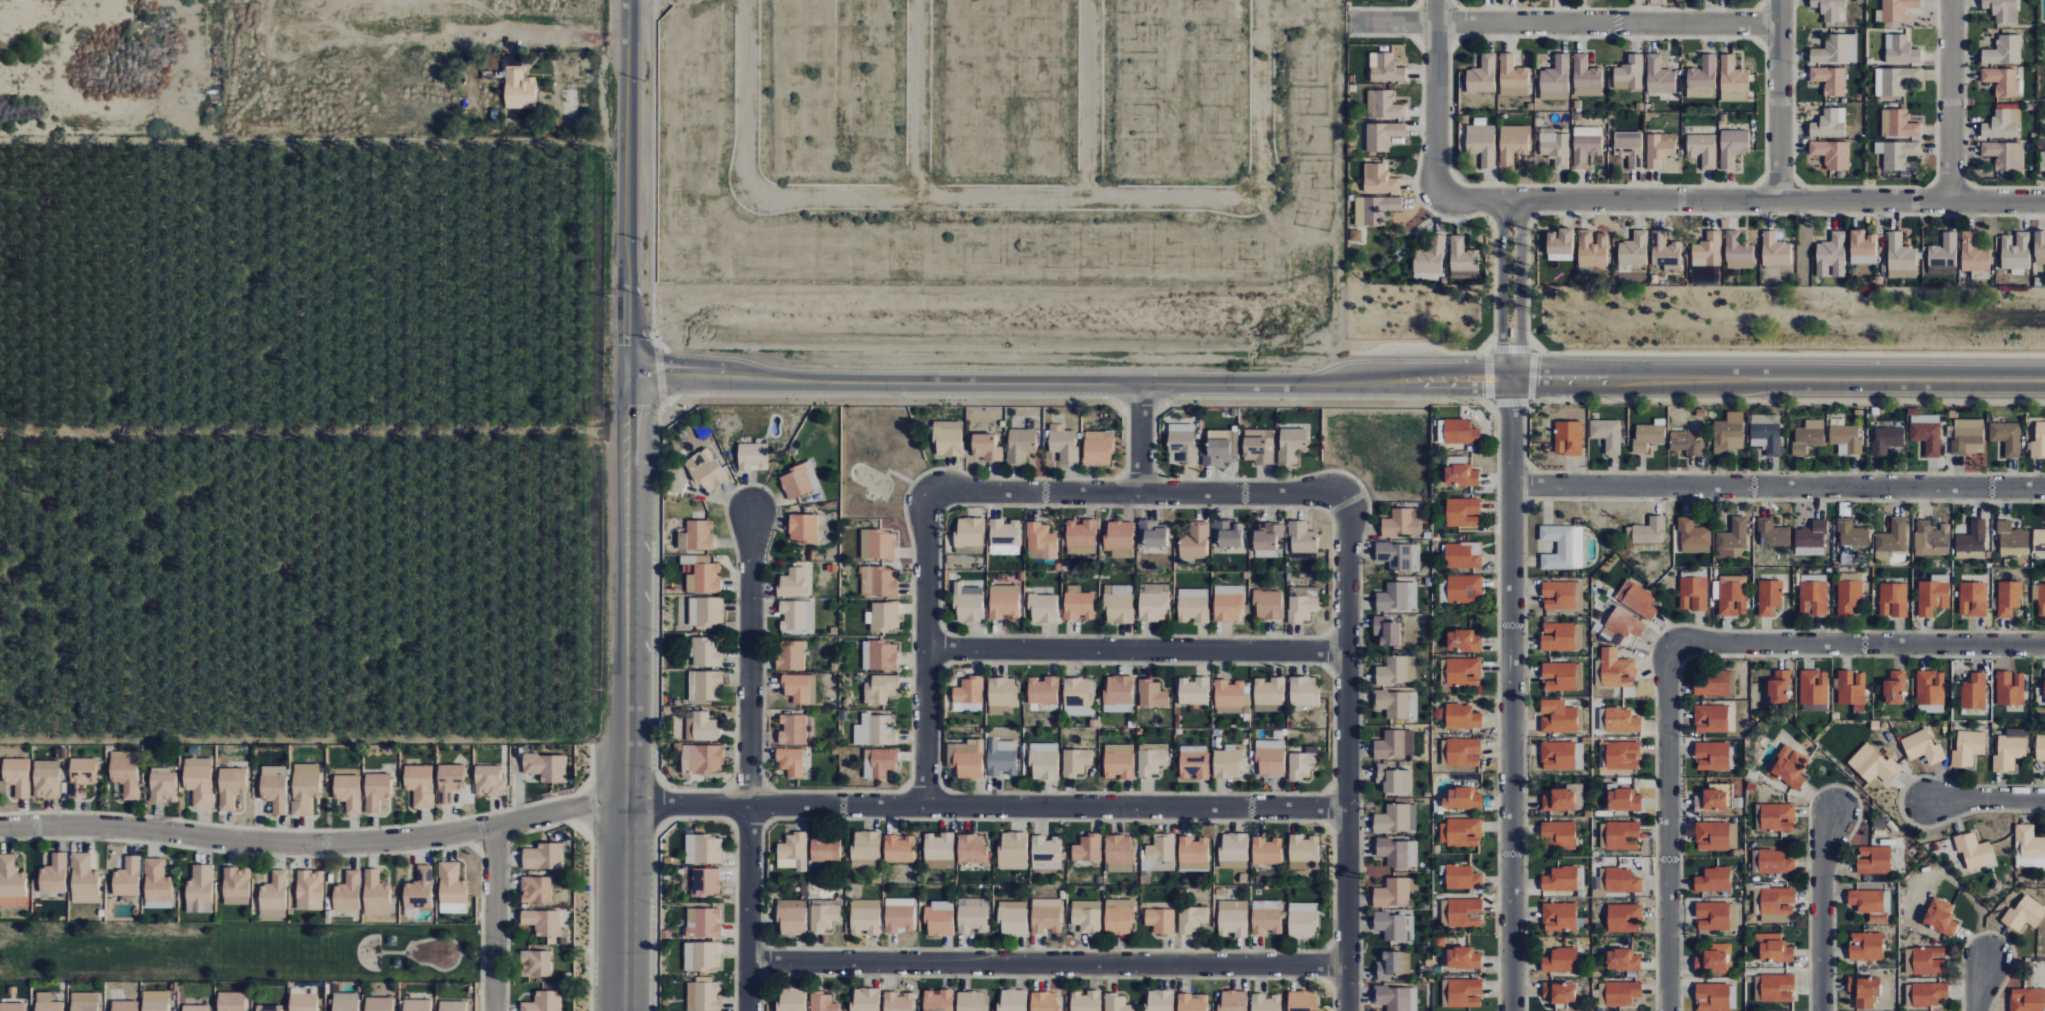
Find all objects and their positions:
road: (1418, 4)
road: (1454, 4)
road: (1452, 5)
road: (1761, 5)
road: (1384, 8)
building: (1827, 8)
road: (1608, 9)
building: (1896, 9)
building: (2001, 10)
road: (1561, 22)
road: (1762, 23)
road: (1453, 40)
road: (571, 41)
road: (1417, 41)
road: (1761, 42)
road: (1449, 49)
building: (1835, 49)
building: (1899, 50)
building: (2002, 50)
building: (1384, 68)
building: (1629, 71)
building: (1481, 73)
building: (1511, 74)
building: (1554, 74)
building: (1585, 74)
building: (1702, 74)
building: (1731, 75)
building: (1658, 76)
building: (1828, 79)
building: (1896, 80)
building: (2000, 80)
building: (520, 89)
road: (1435, 97)
building: (1734, 97)
road: (1778, 100)
road: (1949, 100)
building: (1382, 104)
building: (1897, 123)
building: (1827, 124)
building: (1998, 125)
road: (1963, 130)
building: (1382, 135)
building: (1731, 146)
building: (1481, 147)
building: (1511, 147)
building: (1584, 147)
building: (1701, 149)
building: (1657, 150)
building: (1555, 151)
building: (1628, 151)
building: (1831, 154)
building: (2003, 154)
building: (1897, 155)
building: (2044, 156)
building: (1377, 178)
road: (1796, 181)
road: (1760, 182)
road: (1778, 182)
road: (1932, 182)
road: (1967, 182)
road: (1949, 183)
road: (1864, 186)
road: (1741, 201)
building: (1374, 209)
road: (1472, 215)
road: (1509, 217)
road: (1530, 218)
road: (1490, 220)
building: (1560, 241)
building: (1861, 243)
building: (2039, 244)
building: (1736, 247)
building: (1707, 248)
building: (1633, 249)
building: (1590, 250)
building: (1663, 250)
building: (1774, 250)
building: (1831, 250)
building: (2015, 251)
building: (1898, 252)
building: (1942, 253)
building: (1972, 253)
building: (1429, 255)
building: (1462, 256)
road: (1527, 281)
road: (1501, 289)
road: (1519, 289)
road: (1487, 346)
road: (1533, 346)
road: (1510, 348)
traffic signals: (626, 351)
traffic signals: (641, 375)
road: (722, 375)
road: (1531, 375)
road: (1488, 376)
road: (1676, 379)
road: (1063, 383)
road: (1787, 400)
road: (1510, 404)
road: (1490, 405)
traffic signals: (627, 406)
building: (1460, 431)
building: (1730, 432)
road: (313, 433)
building: (1767, 433)
building: (1927, 433)
building: (1607, 434)
road: (1337, 436)
building: (1648, 436)
building: (1808, 436)
building: (1968, 436)
building: (1568, 437)
building: (2007, 437)
building: (948, 438)
road: (1140, 438)
building: (1846, 438)
building: (1887, 439)
building: (1182, 441)
building: (2039, 441)
building: (1686, 442)
building: (1063, 443)
building: (1020, 444)
building: (1291, 444)
road: (1331, 444)
building: (1258, 445)
building: (985, 447)
building: (1217, 448)
building: (1097, 449)
road: (1342, 450)
building: (752, 456)
road: (1355, 457)
building: (706, 470)
building: (1460, 475)
building: (799, 480)
road: (1778, 486)
road: (1138, 492)
road: (626, 505)
building: (1462, 512)
building: (1402, 522)
building: (803, 528)
building: (1649, 530)
building: (968, 532)
building: (1004, 533)
building: (1152, 533)
building: (1227, 533)
building: (1772, 533)
building: (1852, 534)
building: (696, 535)
building: (1693, 536)
building: (1081, 537)
building: (1892, 538)
building: (1119, 539)
building: (1733, 539)
building: (1811, 539)
building: (1932, 539)
building: (2012, 539)
building: (1267, 540)
building: (1302, 540)
building: (2039, 540)
building: (1041, 541)
building: (1194, 541)
building: (1972, 541)
building: (877, 544)
building: (1563, 546)
building: (1399, 555)
building: (1463, 555)
building: (704, 578)
building: (1814, 578)
building: (878, 581)
building: (791, 582)
building: (1464, 589)
building: (1443, 591)
building: (1693, 593)
building: (1559, 595)
building: (1732, 595)
building: (1398, 596)
building: (1769, 596)
building: (1849, 597)
building: (2009, 597)
building: (2039, 597)
building: (1814, 598)
building: (1973, 598)
building: (1637, 599)
building: (1893, 599)
building: (1004, 601)
building: (1153, 602)
building: (968, 603)
building: (1078, 603)
building: (1228, 603)
building: (1302, 603)
building: (1118, 604)
building: (1268, 604)
building: (1193, 605)
building: (1043, 608)
building: (706, 611)
building: (797, 615)
building: (883, 616)
building: (1623, 624)
building: (1386, 630)
building: (1561, 636)
building: (1463, 640)
road: (1863, 644)
road: (924, 648)
road: (1134, 649)
building: (706, 651)
building: (790, 655)
building: (879, 655)
building: (1616, 669)
building: (1397, 670)
building: (1463, 672)
building: (1559, 676)
building: (1712, 682)
building: (704, 685)
building: (1779, 686)
building: (796, 687)
building: (1814, 687)
building: (1895, 687)
building: (2010, 688)
building: (880, 689)
building: (1853, 689)
building: (969, 690)
building: (1043, 690)
building: (1194, 691)
building: (1304, 691)
building: (1931, 691)
building: (1974, 691)
building: (1229, 693)
building: (1119, 694)
building: (1152, 694)
building: (1002, 695)
building: (1078, 695)
building: (1269, 695)
road: (1511, 695)
building: (2044, 702)
building: (1394, 703)
building: (1230, 710)
building: (1462, 716)
building: (1557, 716)
building: (1711, 718)
building: (1622, 720)
building: (701, 726)
building: (793, 729)
building: (876, 730)
building: (1390, 745)
building: (1923, 747)
building: (1968, 748)
building: (2040, 748)
building: (2010, 750)
building: (1463, 752)
building: (1562, 755)
building: (1602, 755)
building: (1623, 755)
building: (1712, 755)
road: (1345, 756)
building: (1002, 757)
building: (966, 758)
building: (1270, 758)
building: (701, 759)
road: (749, 759)
building: (1152, 759)
building: (791, 761)
building: (1044, 761)
building: (1076, 761)
building: (1119, 761)
building: (879, 762)
building: (1195, 762)
building: (1227, 763)
building: (1303, 763)
building: (1873, 764)
road: (591, 766)
building: (549, 767)
building: (1790, 767)
building: (83, 775)
building: (18, 776)
building: (127, 776)
building: (48, 779)
building: (1394, 779)
building: (491, 781)
building: (201, 782)
building: (451, 782)
building: (421, 785)
building: (164, 788)
building: (232, 788)
building: (378, 791)
building: (276, 792)
building: (307, 792)
building: (351, 793)
building: (1564, 798)
building: (1462, 799)
building: (1622, 799)
road: (1984, 799)
building: (1710, 800)
road: (985, 805)
road: (588, 809)
building: (1775, 817)
building: (1396, 818)
road: (1667, 822)
road: (579, 825)
road: (539, 828)
road: (296, 830)
building: (1460, 832)
building: (1559, 834)
road: (589, 835)
building: (1602, 835)
building: (1622, 835)
building: (1712, 836)
road: (491, 840)
road: (314, 844)
building: (866, 844)
building: (825, 848)
building: (971, 848)
building: (1087, 848)
building: (703, 849)
building: (898, 849)
building: (939, 850)
building: (1012, 850)
building: (1234, 850)
building: (1267, 851)
building: (1974, 851)
building: (793, 852)
building: (1046, 852)
building: (1304, 852)
building: (1398, 852)
road: (237, 853)
building: (1119, 853)
building: (1194, 854)
building: (1159, 855)
building: (545, 857)
building: (1874, 859)
building: (1775, 862)
building: (55, 874)
building: (85, 877)
building: (129, 877)
building: (12, 878)
building: (1462, 878)
building: (1560, 879)
building: (1620, 880)
building: (1714, 880)
building: (705, 881)
building: (159, 882)
building: (239, 882)
building: (202, 884)
building: (453, 886)
building: (421, 889)
building: (312, 890)
building: (537, 890)
building: (276, 891)
building: (350, 892)
building: (379, 892)
building: (1395, 892)
building: (1867, 901)
building: (1777, 903)
road: (1822, 909)
building: (1464, 912)
building: (2024, 914)
building: (1046, 915)
building: (1712, 916)
building: (1733, 916)
building: (1940, 916)
building: (791, 917)
building: (824, 917)
building: (865, 917)
building: (973, 917)
building: (1087, 917)
building: (1119, 917)
building: (1267, 917)
building: (1559, 917)
road: (493, 918)
building: (898, 918)
building: (1013, 918)
building: (1234, 918)
building: (1624, 918)
building: (939, 919)
building: (1192, 919)
building: (1303, 920)
building: (704, 921)
building: (1161, 921)
building: (544, 922)
road: (506, 923)
road: (480, 926)
road: (589, 926)
building: (1395, 926)
road: (359, 941)
building: (390, 941)
building: (1866, 946)
building: (1772, 948)
park: (238, 952)
park: (368, 953)
road: (458, 954)
road: (469, 954)
building: (701, 955)
building: (1463, 958)
building: (1714, 959)
building: (1560, 960)
building: (1623, 960)
building: (1925, 961)
building: (396, 963)
road: (1046, 963)
building: (537, 964)
building: (1393, 964)
road: (1980, 984)
building: (1774, 988)
building: (1864, 991)
building: (1559, 992)
building: (1462, 993)
building: (1617, 993)
building: (1928, 994)
building: (1908, 995)
building: (703, 996)
building: (1713, 997)
building: (1393, 998)
building: (865, 999)
building: (791, 1000)
building: (938, 1000)
building: (1013, 1000)
building: (1160, 1000)
building: (2027, 1000)
building: (233, 1001)
building: (971, 1001)
building: (1045, 1001)
building: (1085, 1001)
building: (1234, 1001)
building: (1301, 1001)
building: (544, 1002)
building: (822, 1002)
building: (897, 1002)
building: (1192, 1002)
building: (306, 1003)
building: (1117, 1003)
building: (1266, 1003)
building: (348, 1004)
building: (158, 1005)
building: (381, 1005)
building: (419, 1005)
building: (127, 1006)
building: (455, 1006)
building: (13, 1007)
building: (51, 1007)
building: (87, 1007)
building: (198, 1008)
building: (271, 1008)

